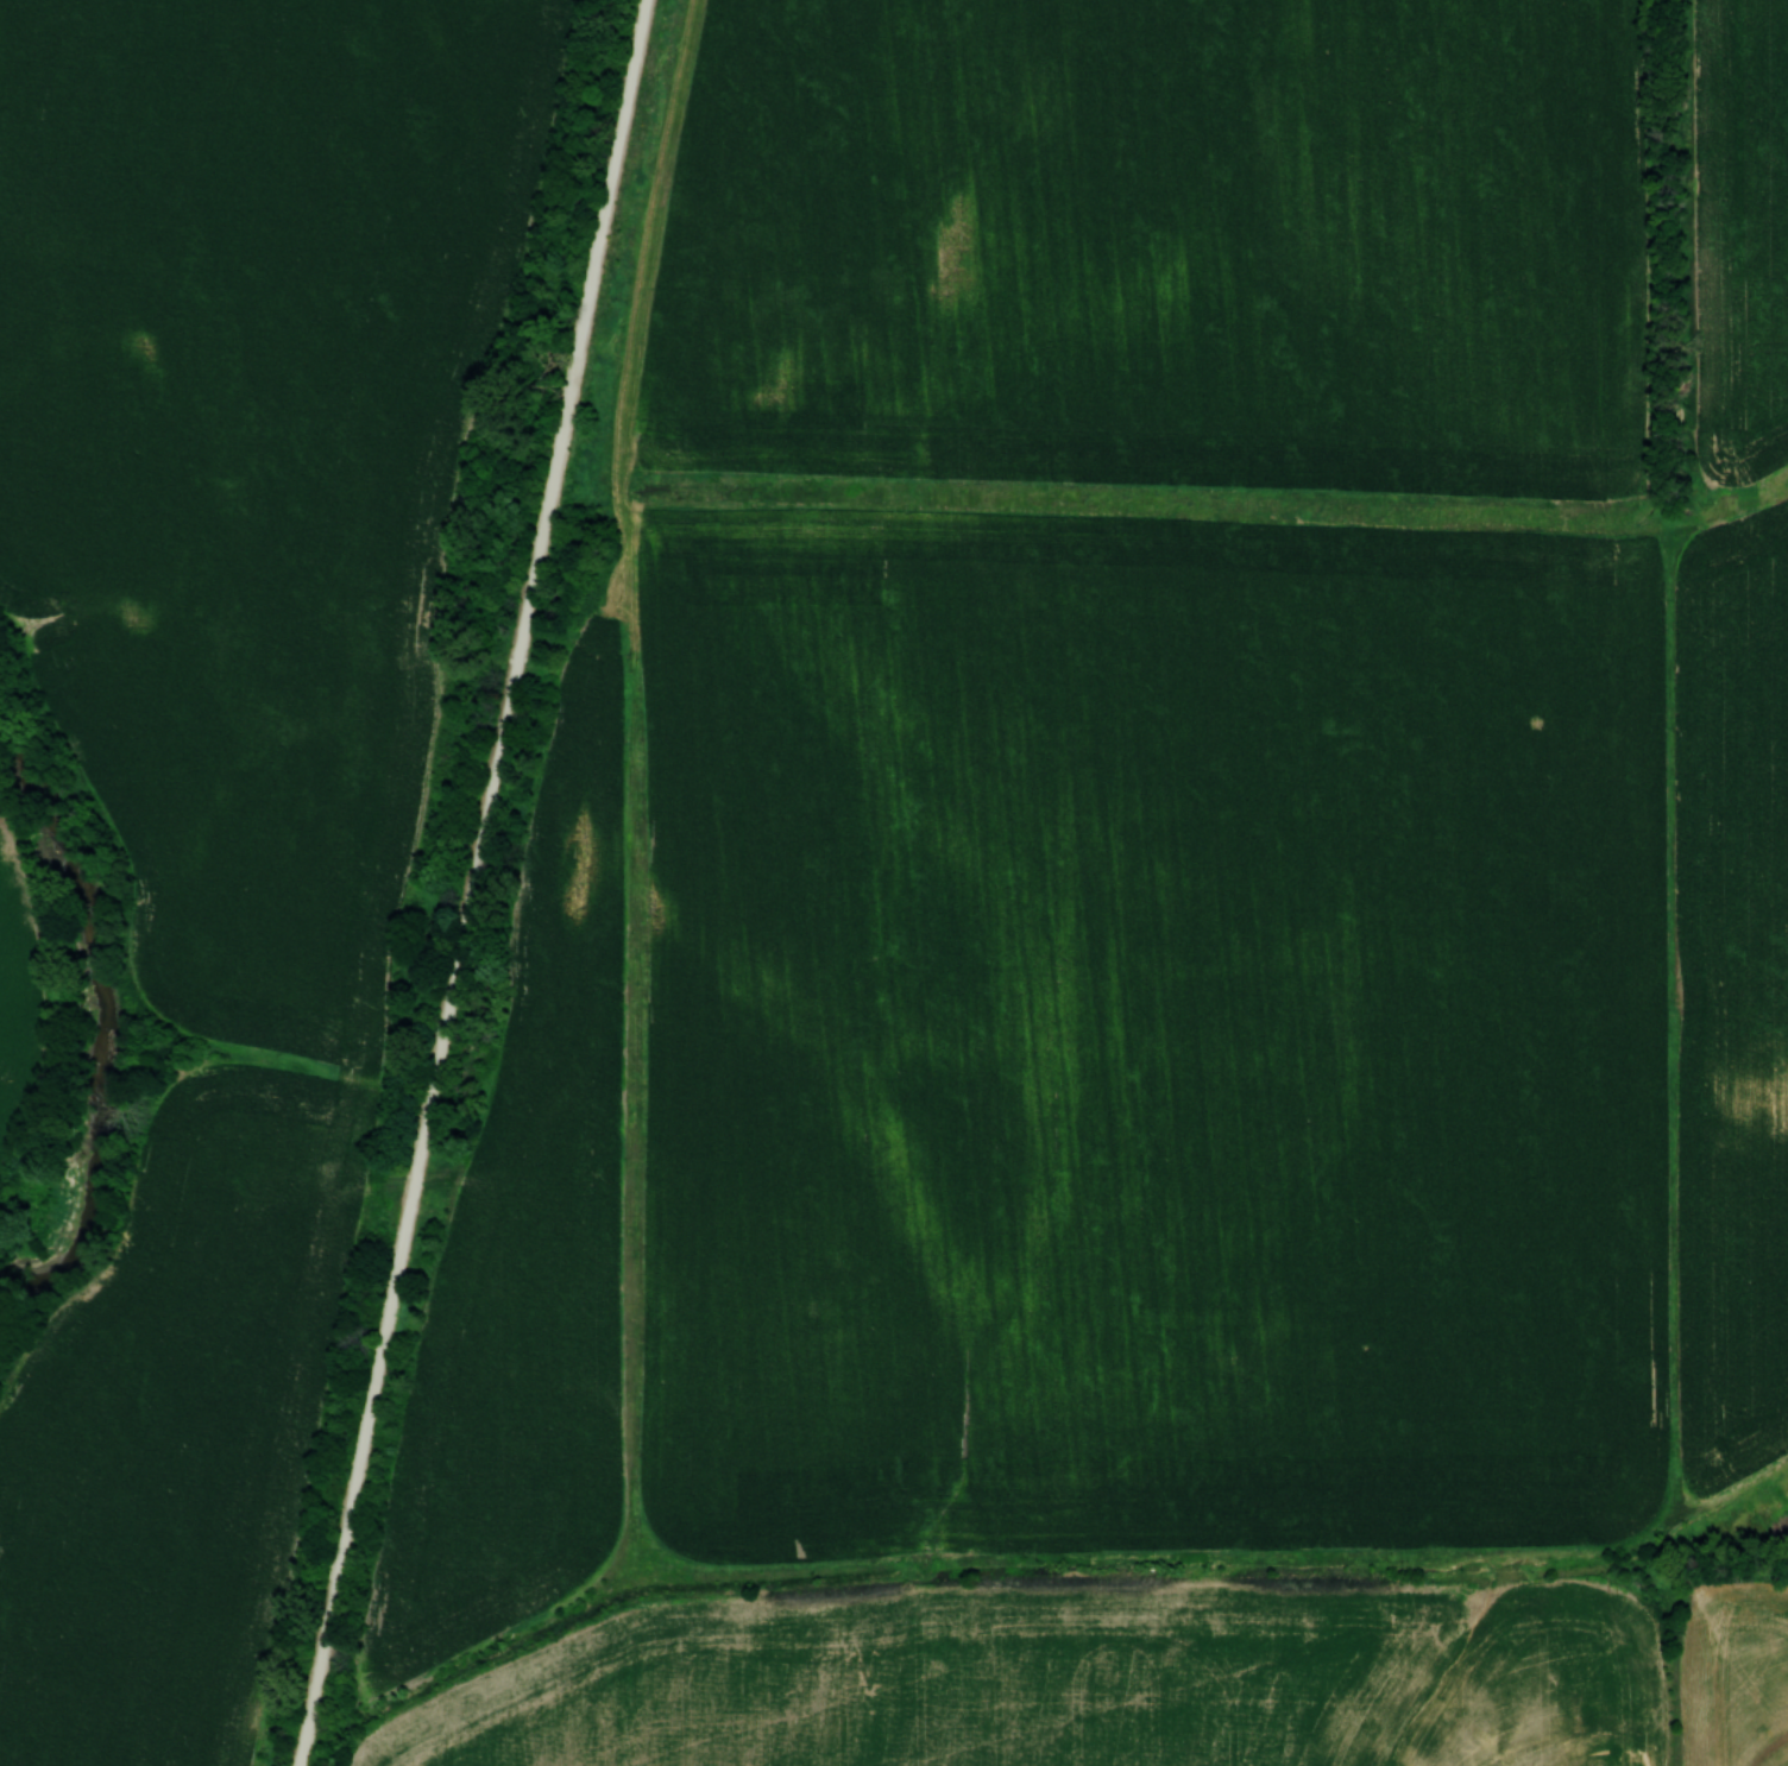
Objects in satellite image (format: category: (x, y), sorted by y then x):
crop: (1158, 244)
crop: (262, 446)
road: (472, 883)
crop: (17, 1002)
crop: (1144, 1016)
crop: (172, 1425)

